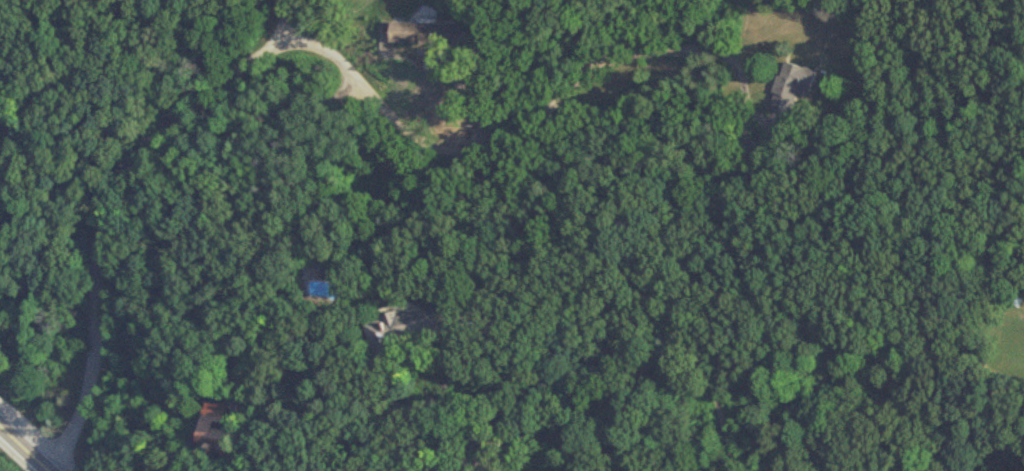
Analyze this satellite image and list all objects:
road: (286, 15)
building: (420, 34)
road: (469, 49)
road: (16, 50)
road: (711, 50)
road: (569, 84)
building: (791, 86)
road: (372, 93)
road: (102, 219)
road: (255, 298)
building: (403, 324)
road: (311, 347)
road: (439, 389)
road: (383, 419)
building: (213, 431)
road: (24, 447)
road: (443, 452)
road: (414, 456)

